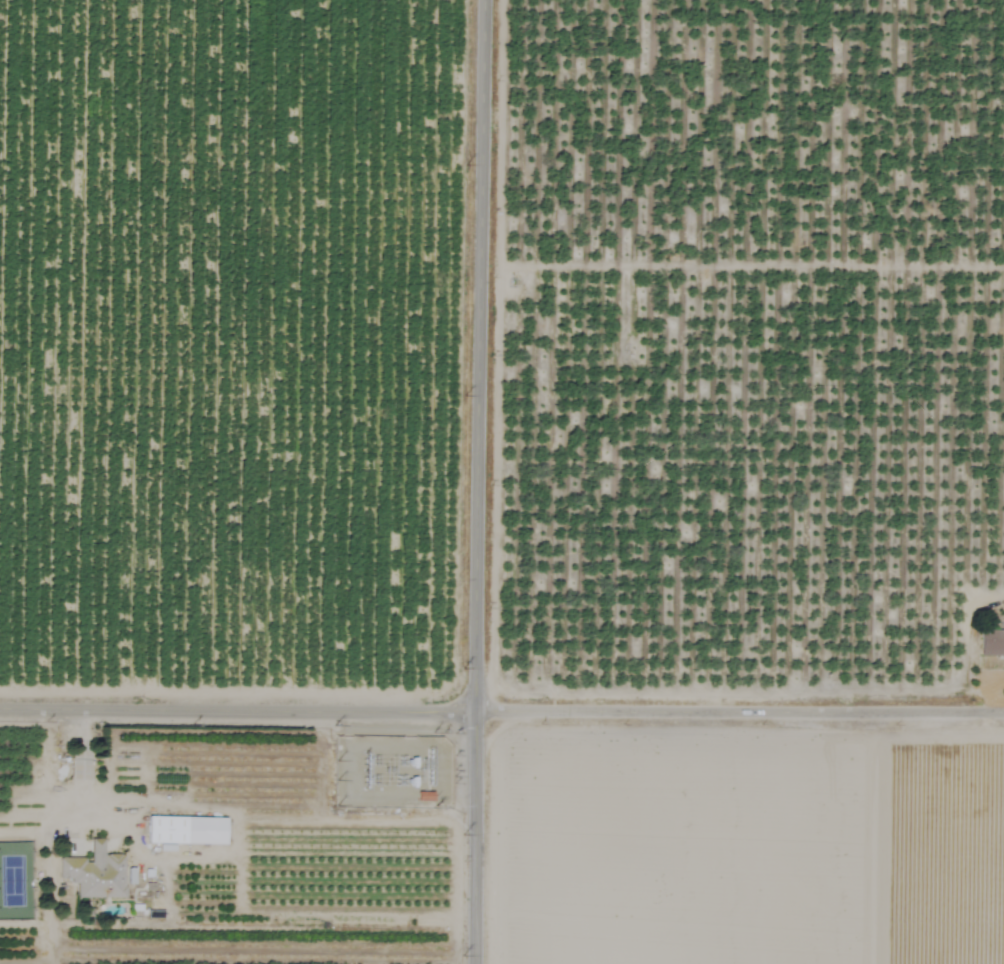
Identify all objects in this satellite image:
road: (476, 481)
crop: (502, 482)
building: (991, 643)
road: (501, 707)
road: (80, 766)
building: (185, 831)
building: (94, 873)

